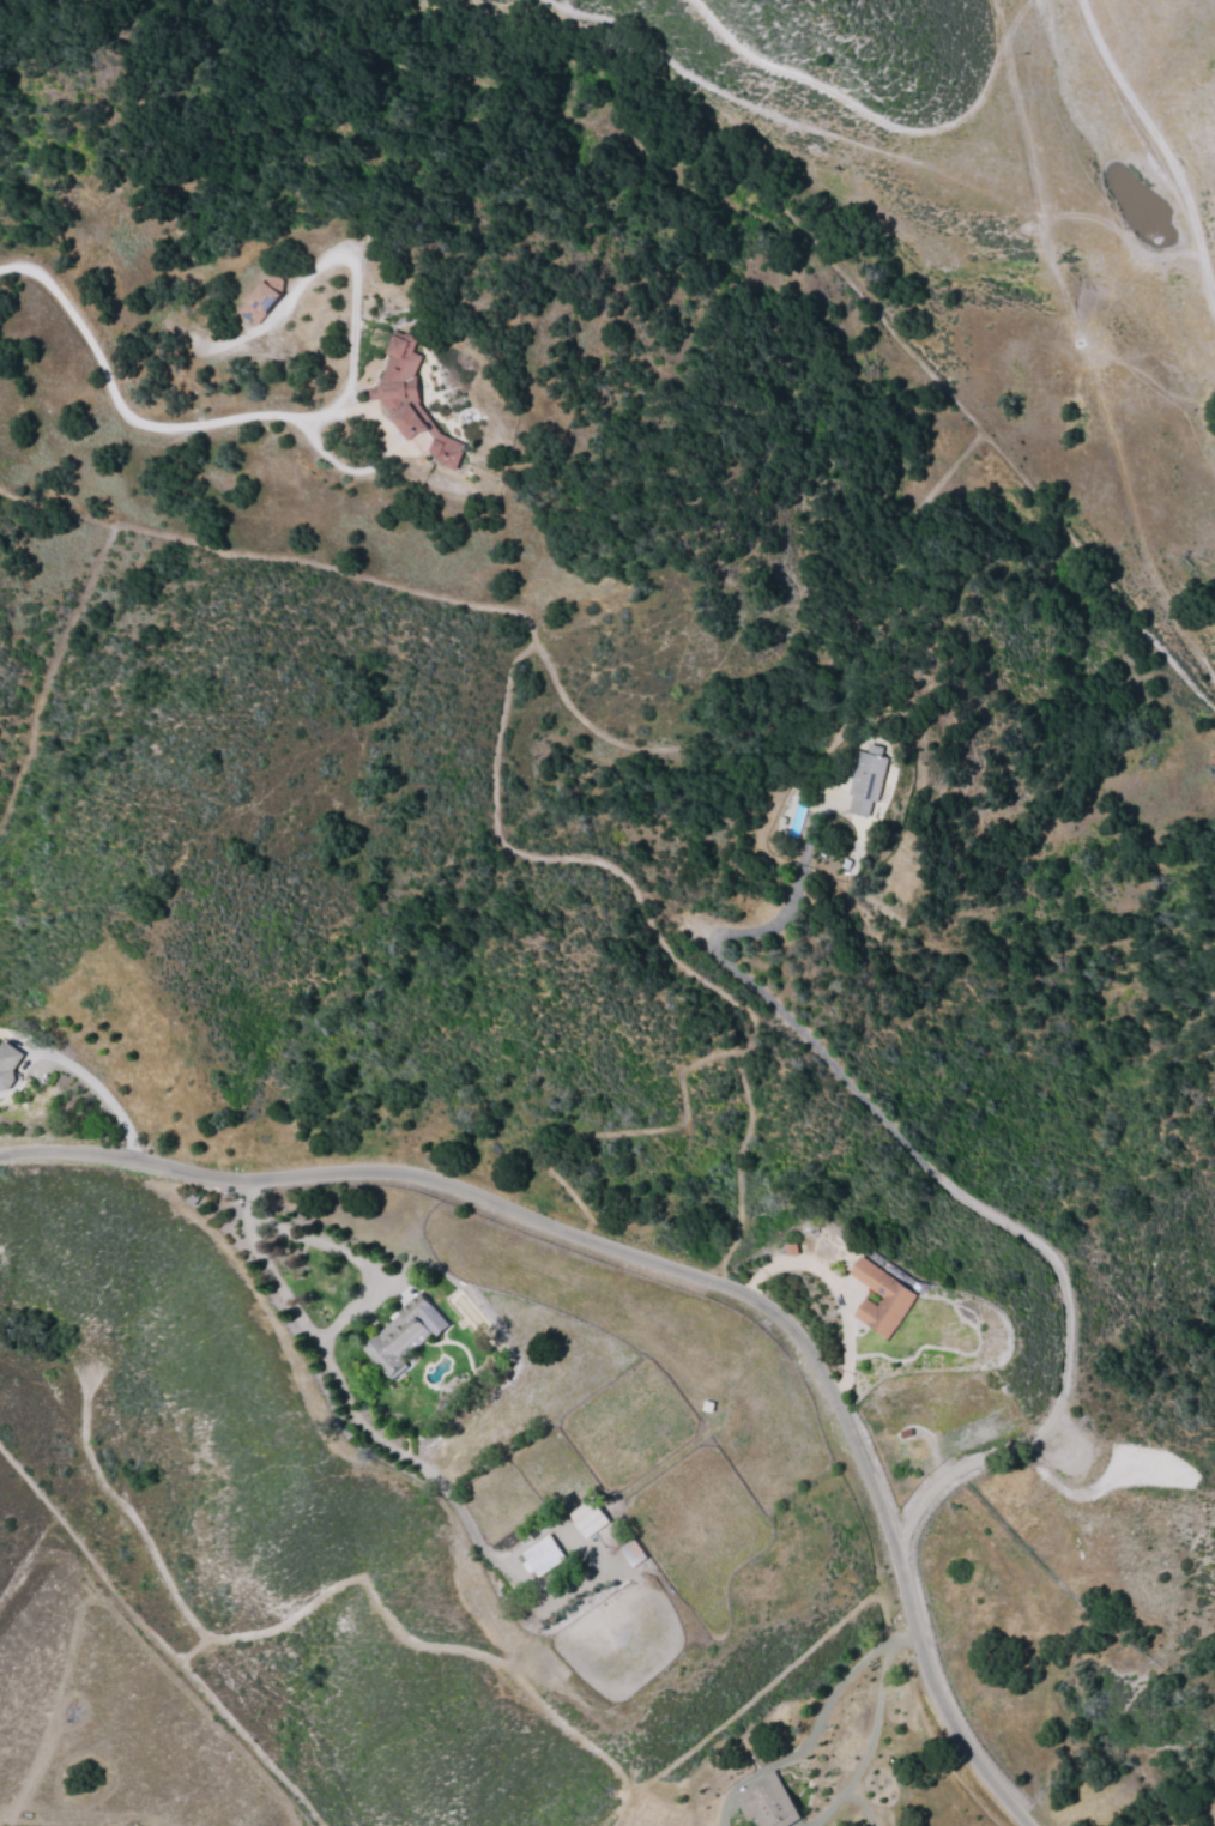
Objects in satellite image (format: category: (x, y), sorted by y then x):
road: (1159, 145)
building: (264, 297)
building: (411, 399)
road: (639, 750)
building: (868, 779)
road: (670, 951)
building: (8, 1065)
building: (897, 1301)
building: (404, 1336)
building: (588, 1518)
building: (542, 1555)
road: (1111, 1719)
building: (768, 1802)

